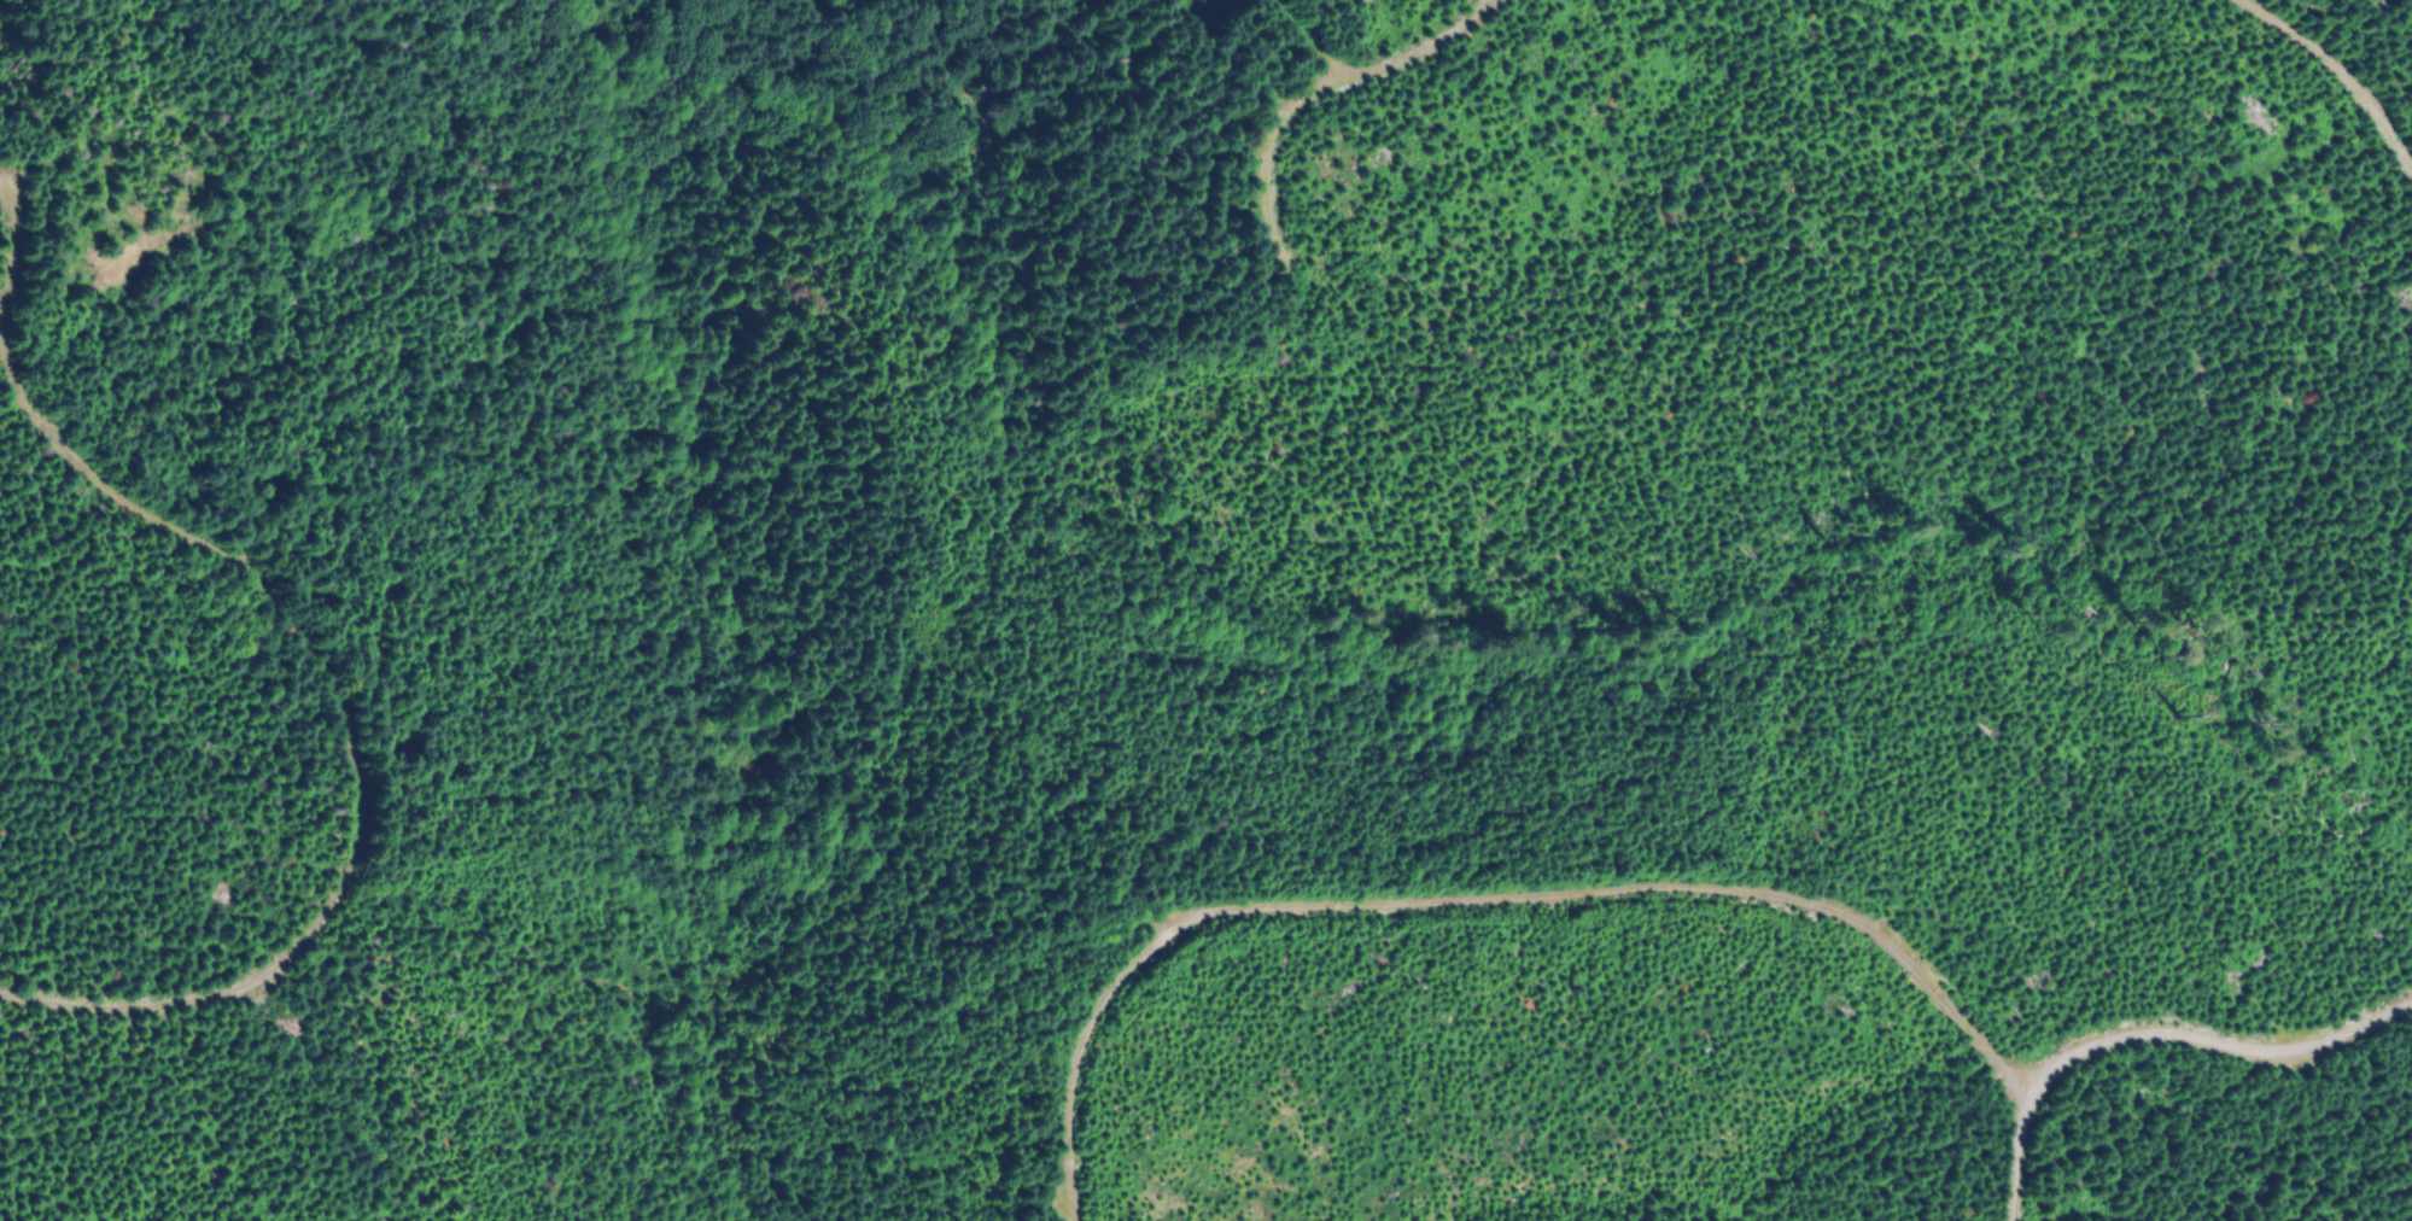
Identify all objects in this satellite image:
road: (2149, 1036)

